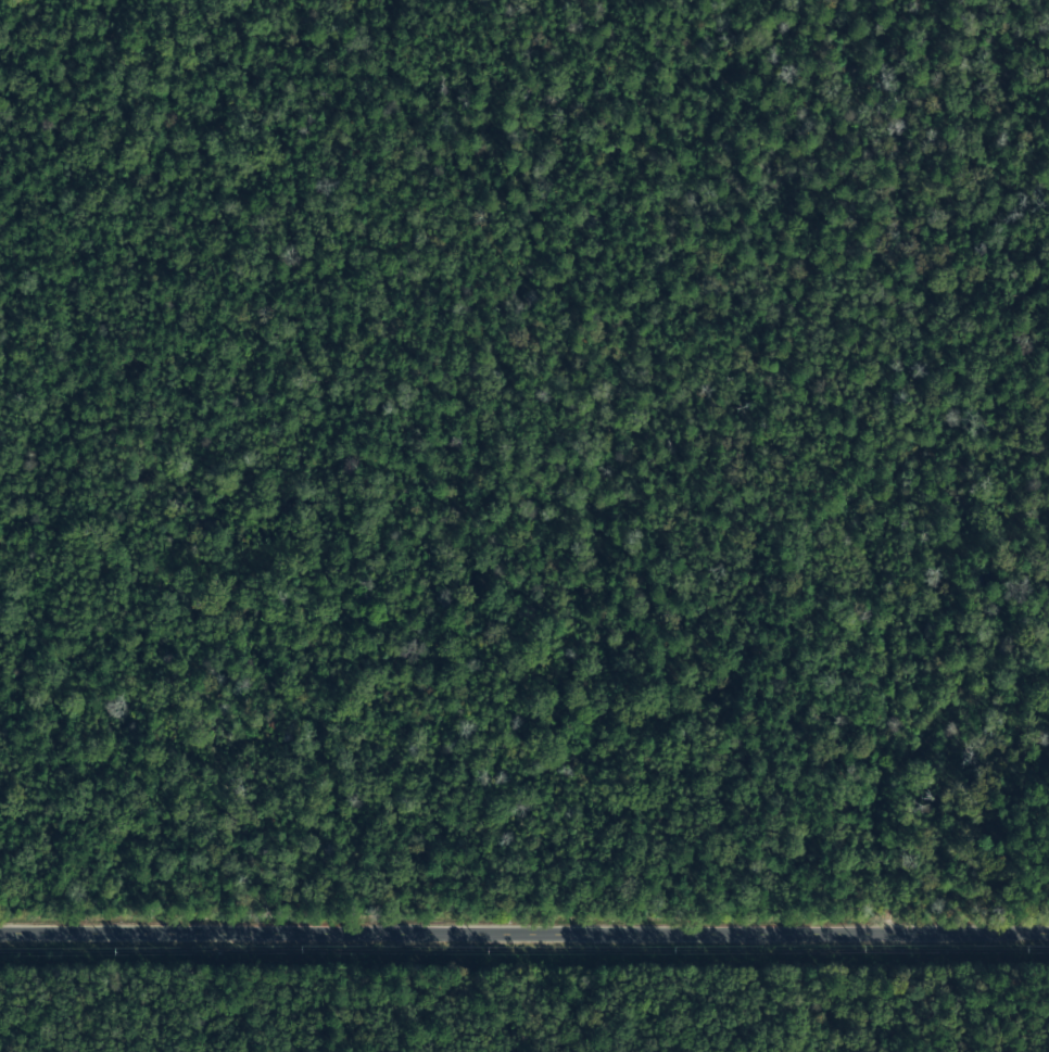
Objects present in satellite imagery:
road: (524, 931)

